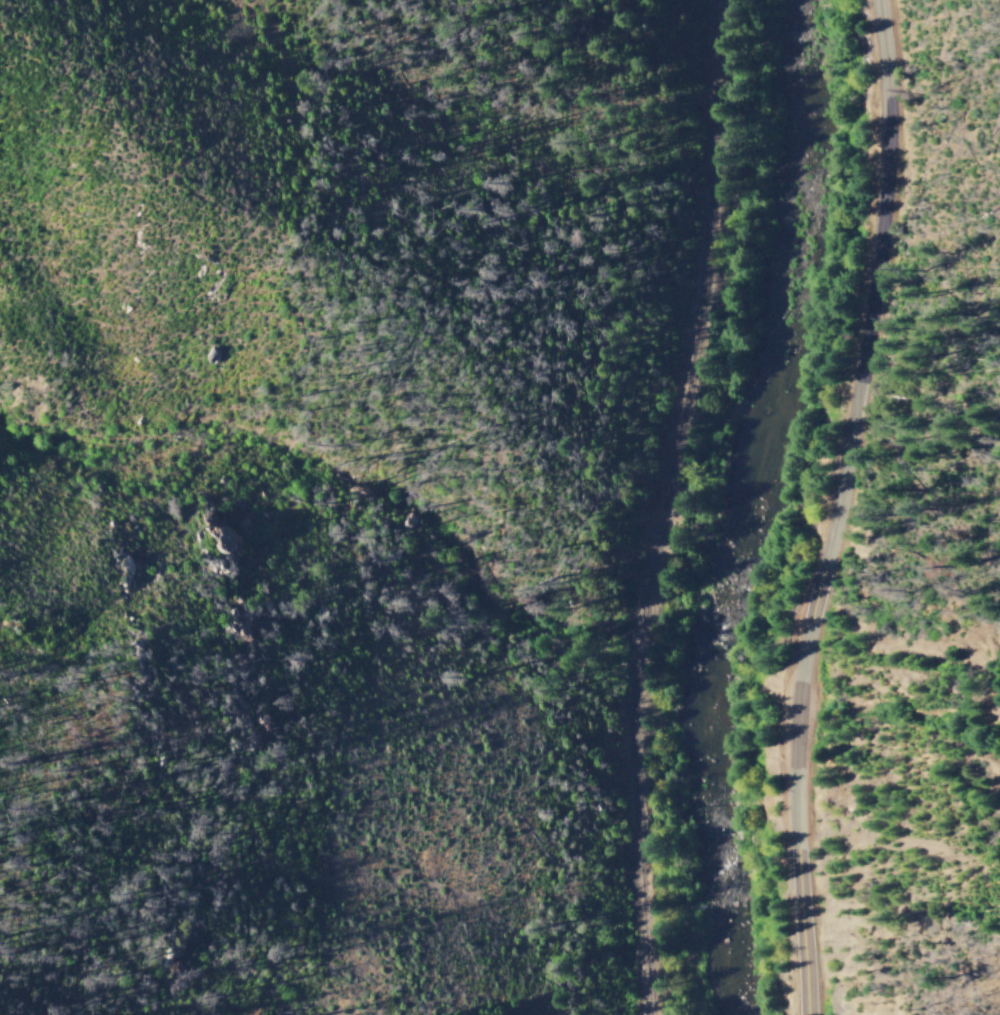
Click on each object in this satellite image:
railway: (663, 507)
road: (839, 508)

